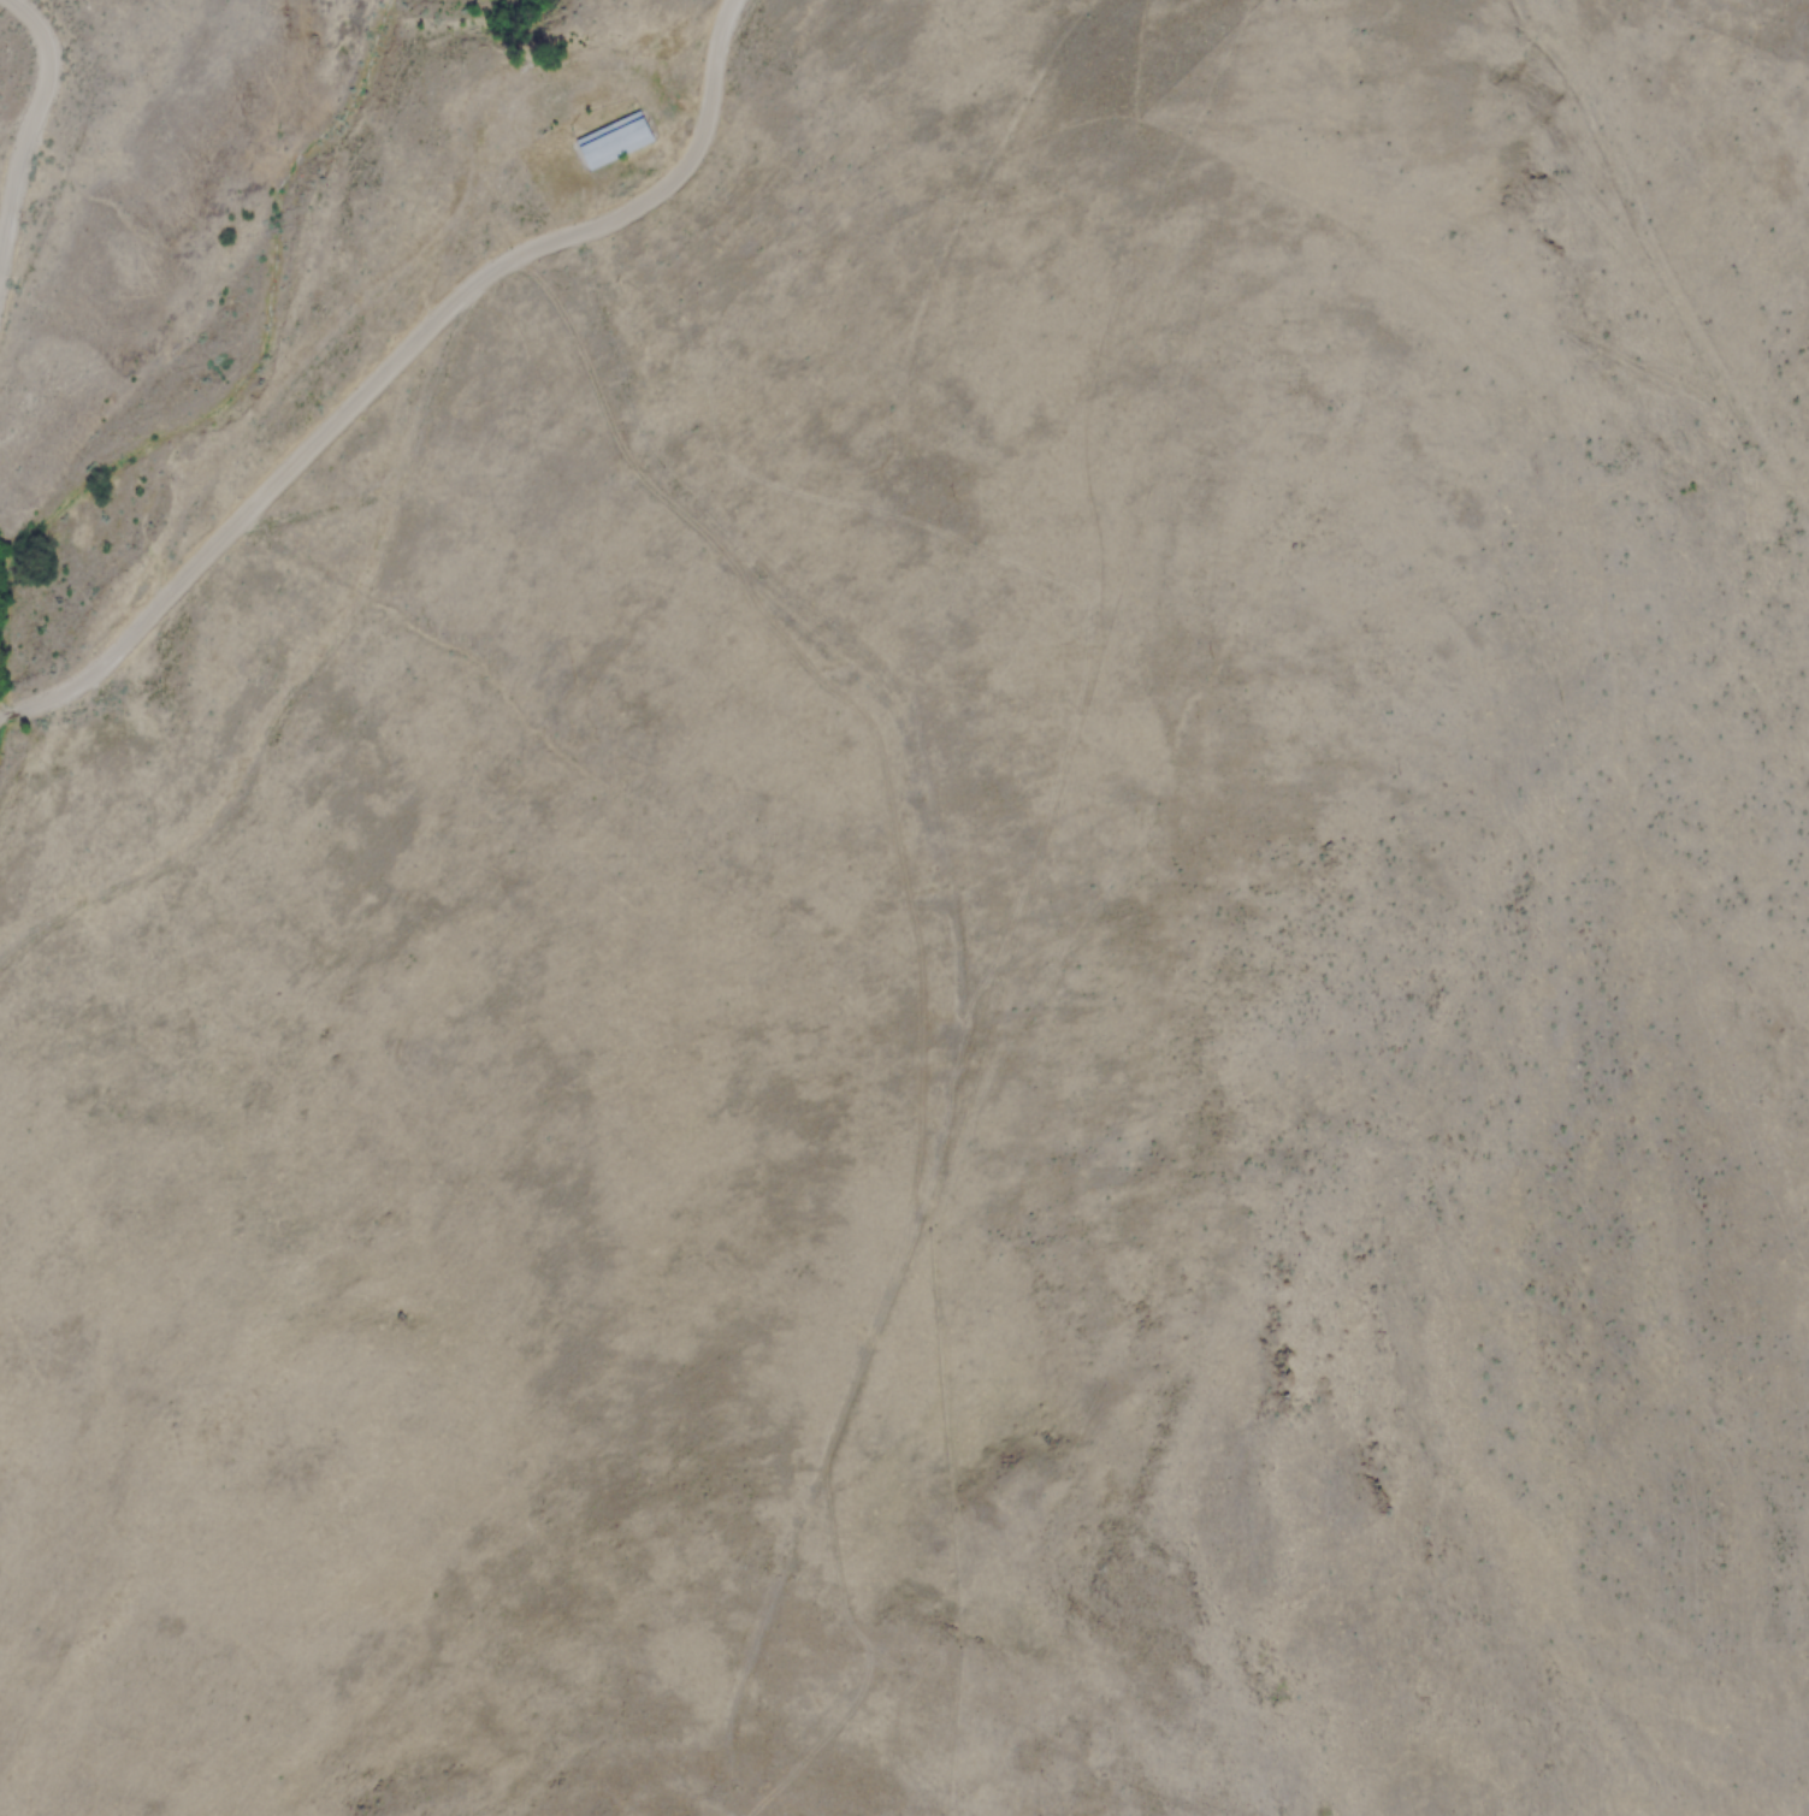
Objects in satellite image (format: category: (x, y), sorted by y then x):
road: (36, 118)
road: (396, 360)

